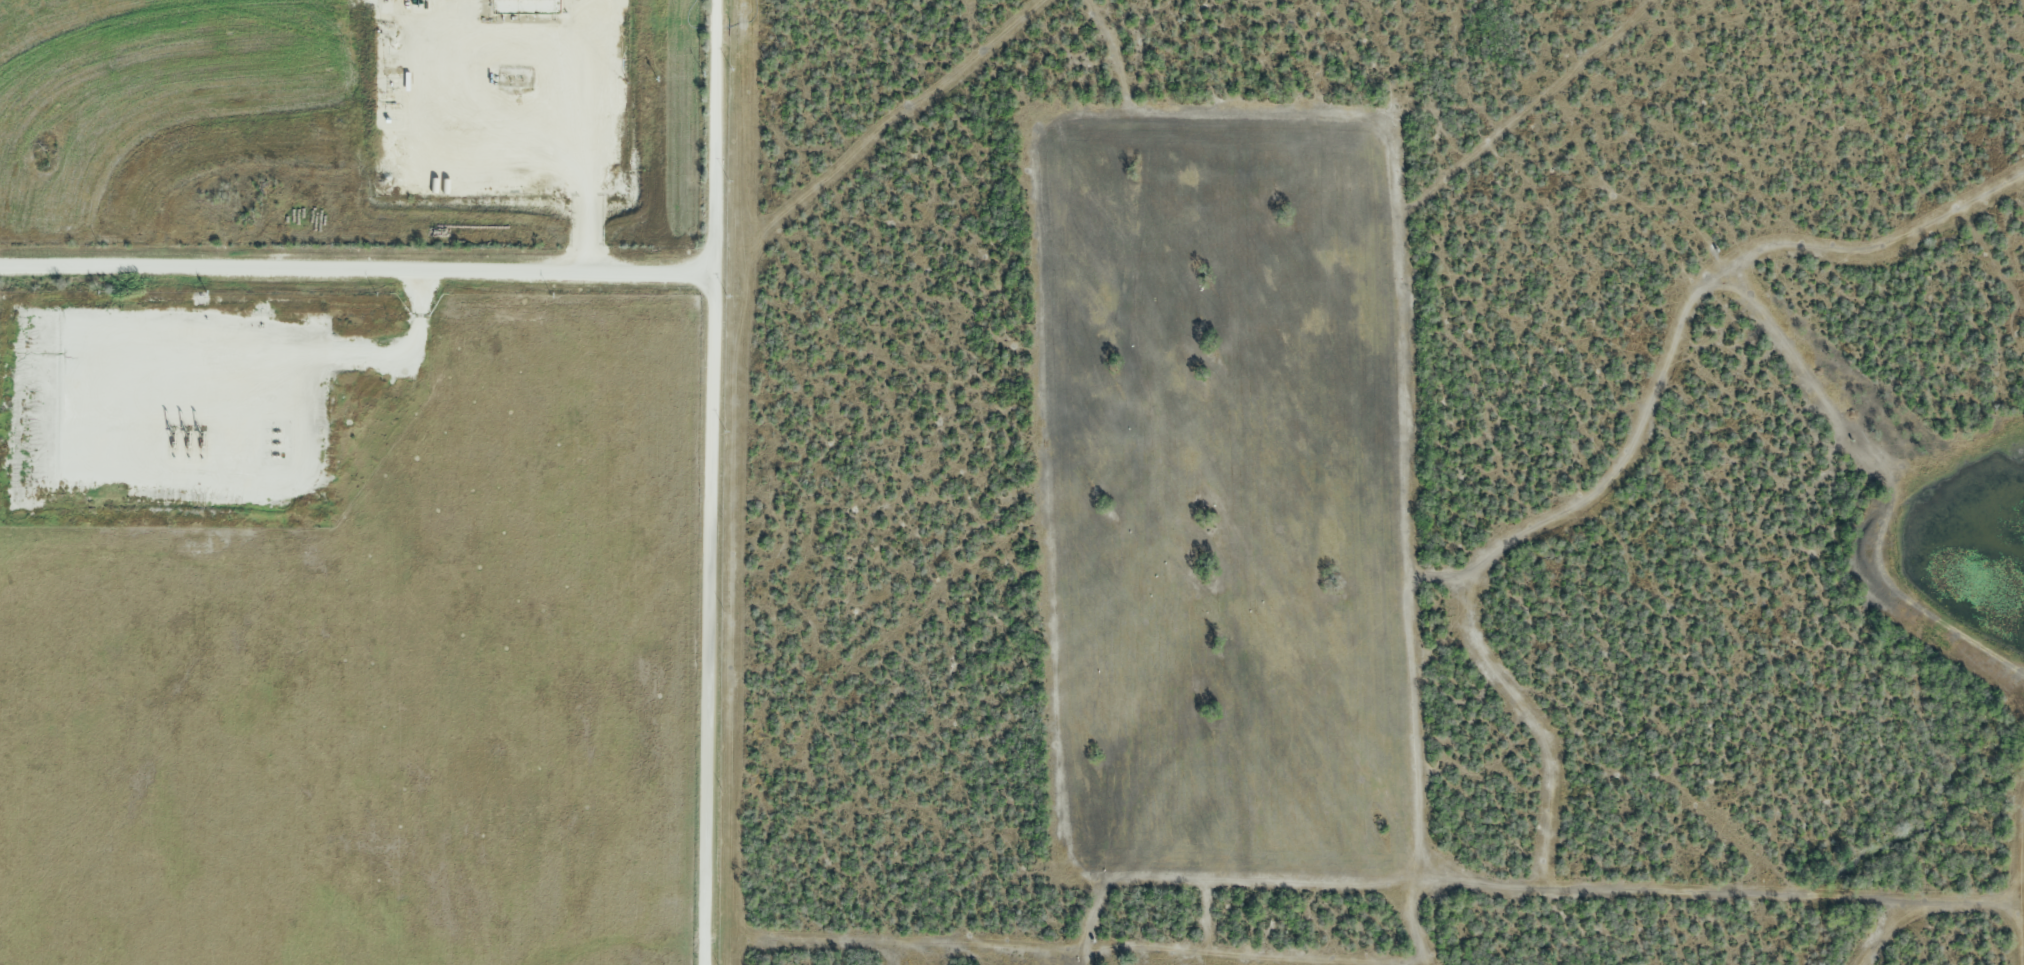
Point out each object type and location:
road: (362, 269)
road: (718, 482)

